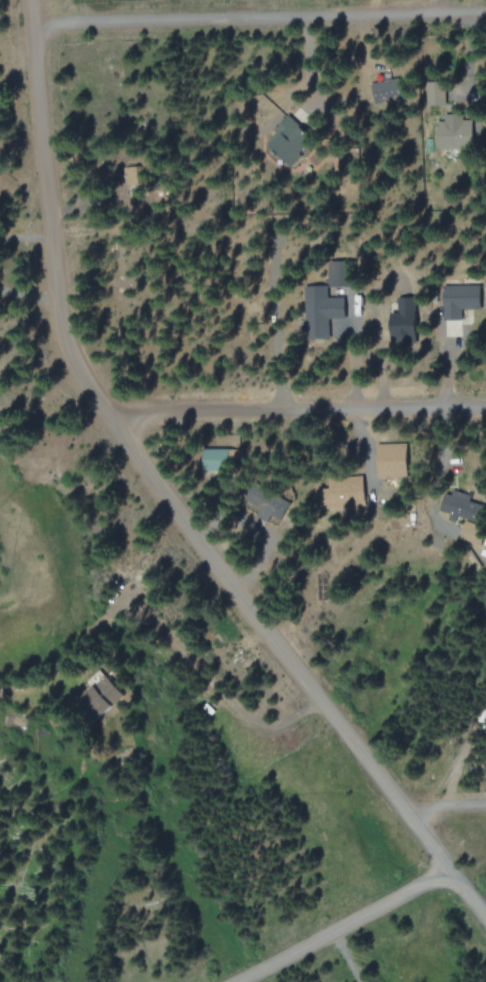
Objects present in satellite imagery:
road: (261, 21)
building: (387, 90)
building: (436, 93)
building: (455, 134)
building: (289, 139)
building: (340, 275)
building: (459, 302)
road: (297, 412)
building: (391, 459)
building: (216, 461)
road: (168, 494)
building: (266, 504)
building: (464, 506)
building: (473, 533)
building: (104, 694)
road: (445, 807)
road: (345, 928)

